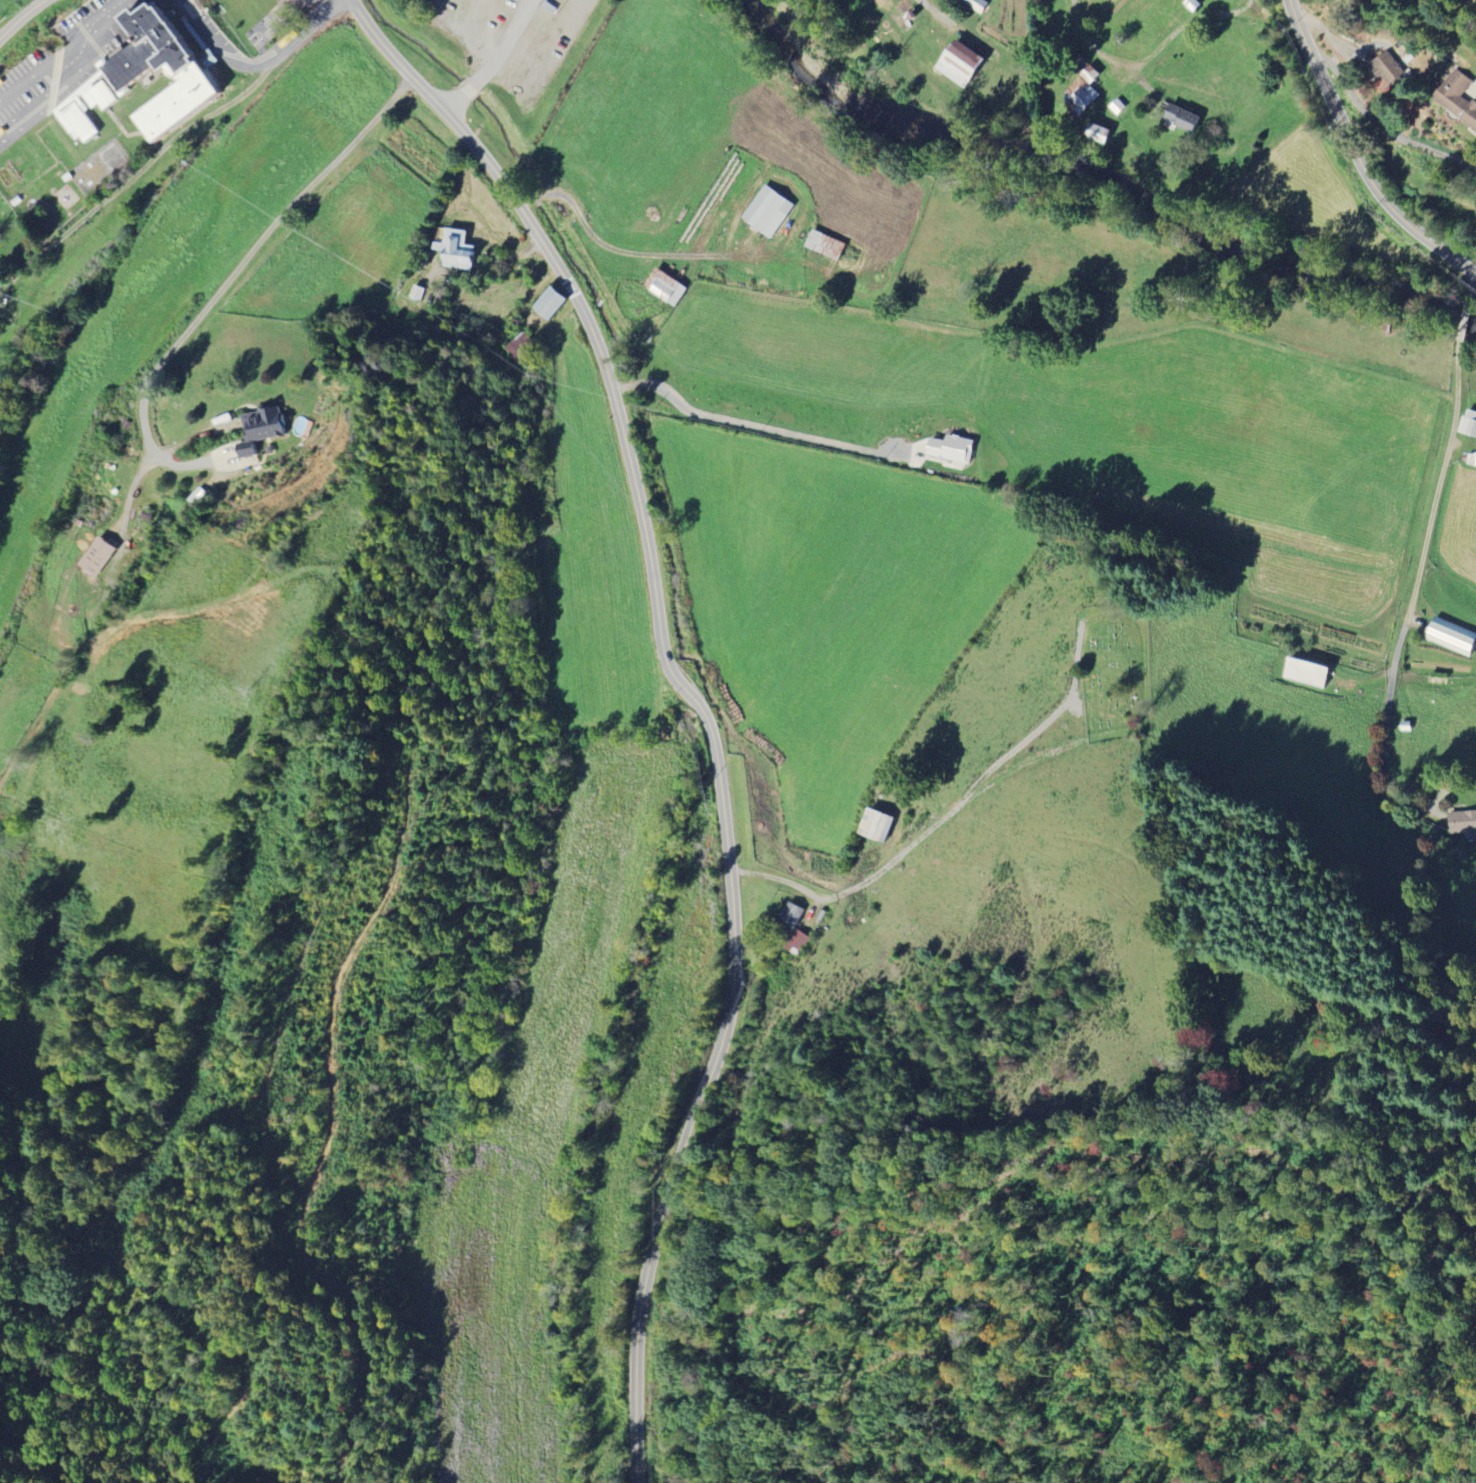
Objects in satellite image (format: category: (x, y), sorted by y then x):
building: (0, 0)
parking lot: (160, 0)
building: (971, 2)
building: (908, 6)
building: (1192, 7)
road: (105, 19)
road: (25, 20)
parking lot: (98, 29)
road: (504, 44)
building: (53, 45)
building: (71, 55)
road: (1149, 55)
building: (964, 65)
road: (260, 67)
building: (126, 72)
building: (1386, 72)
building: (1094, 73)
road: (470, 91)
building: (1456, 98)
building: (1083, 100)
road: (456, 104)
building: (1119, 108)
building: (1179, 119)
building: (1102, 133)
road: (1357, 156)
building: (773, 215)
building: (828, 245)
building: (455, 250)
road: (256, 255)
road: (1473, 286)
building: (668, 287)
building: (417, 293)
building: (548, 303)
road: (1466, 320)
building: (1468, 423)
road: (752, 426)
building: (258, 429)
road: (194, 438)
building: (950, 450)
building: (1471, 458)
road: (1441, 482)
road: (129, 497)
building: (95, 556)
building: (1450, 636)
building: (1304, 672)
park: (1118, 674)
road: (696, 700)
road: (1384, 733)
building: (1463, 824)
building: (875, 826)
building: (788, 916)
building: (797, 941)

